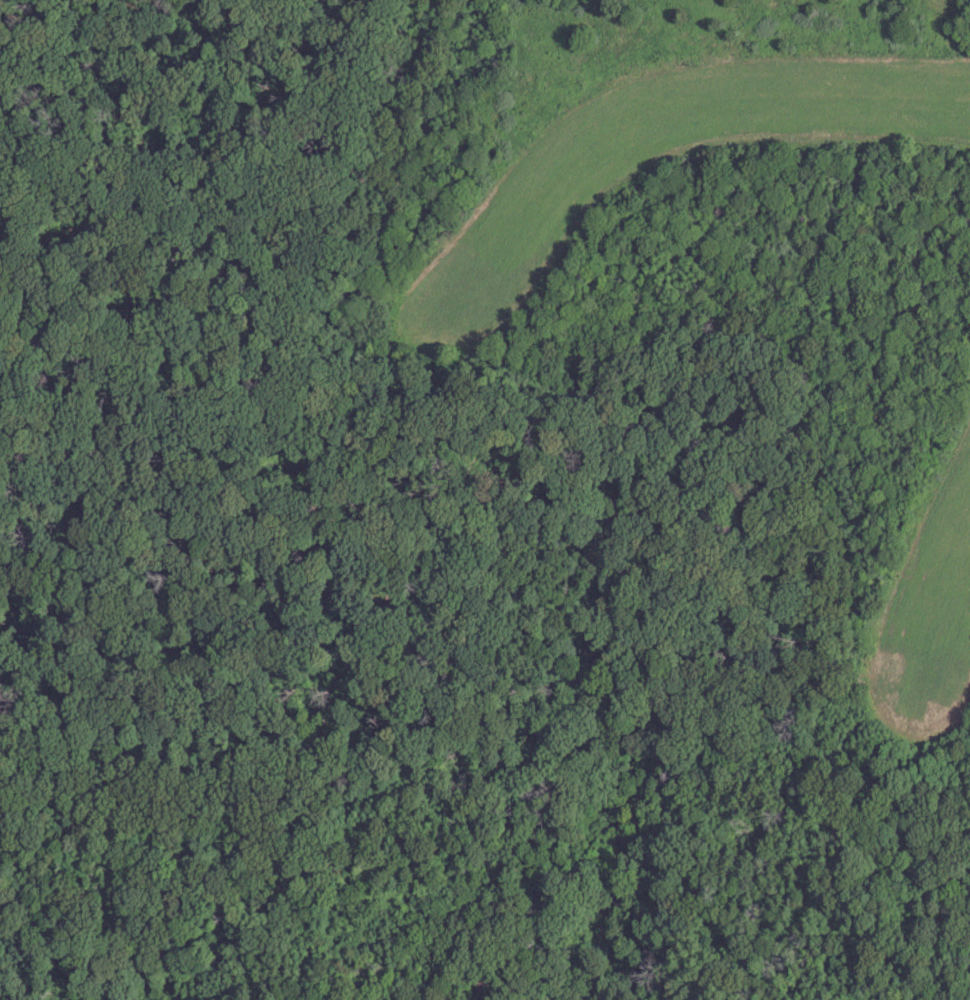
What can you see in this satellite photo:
road: (853, 55)
road: (595, 442)
road: (828, 941)
road: (770, 950)

